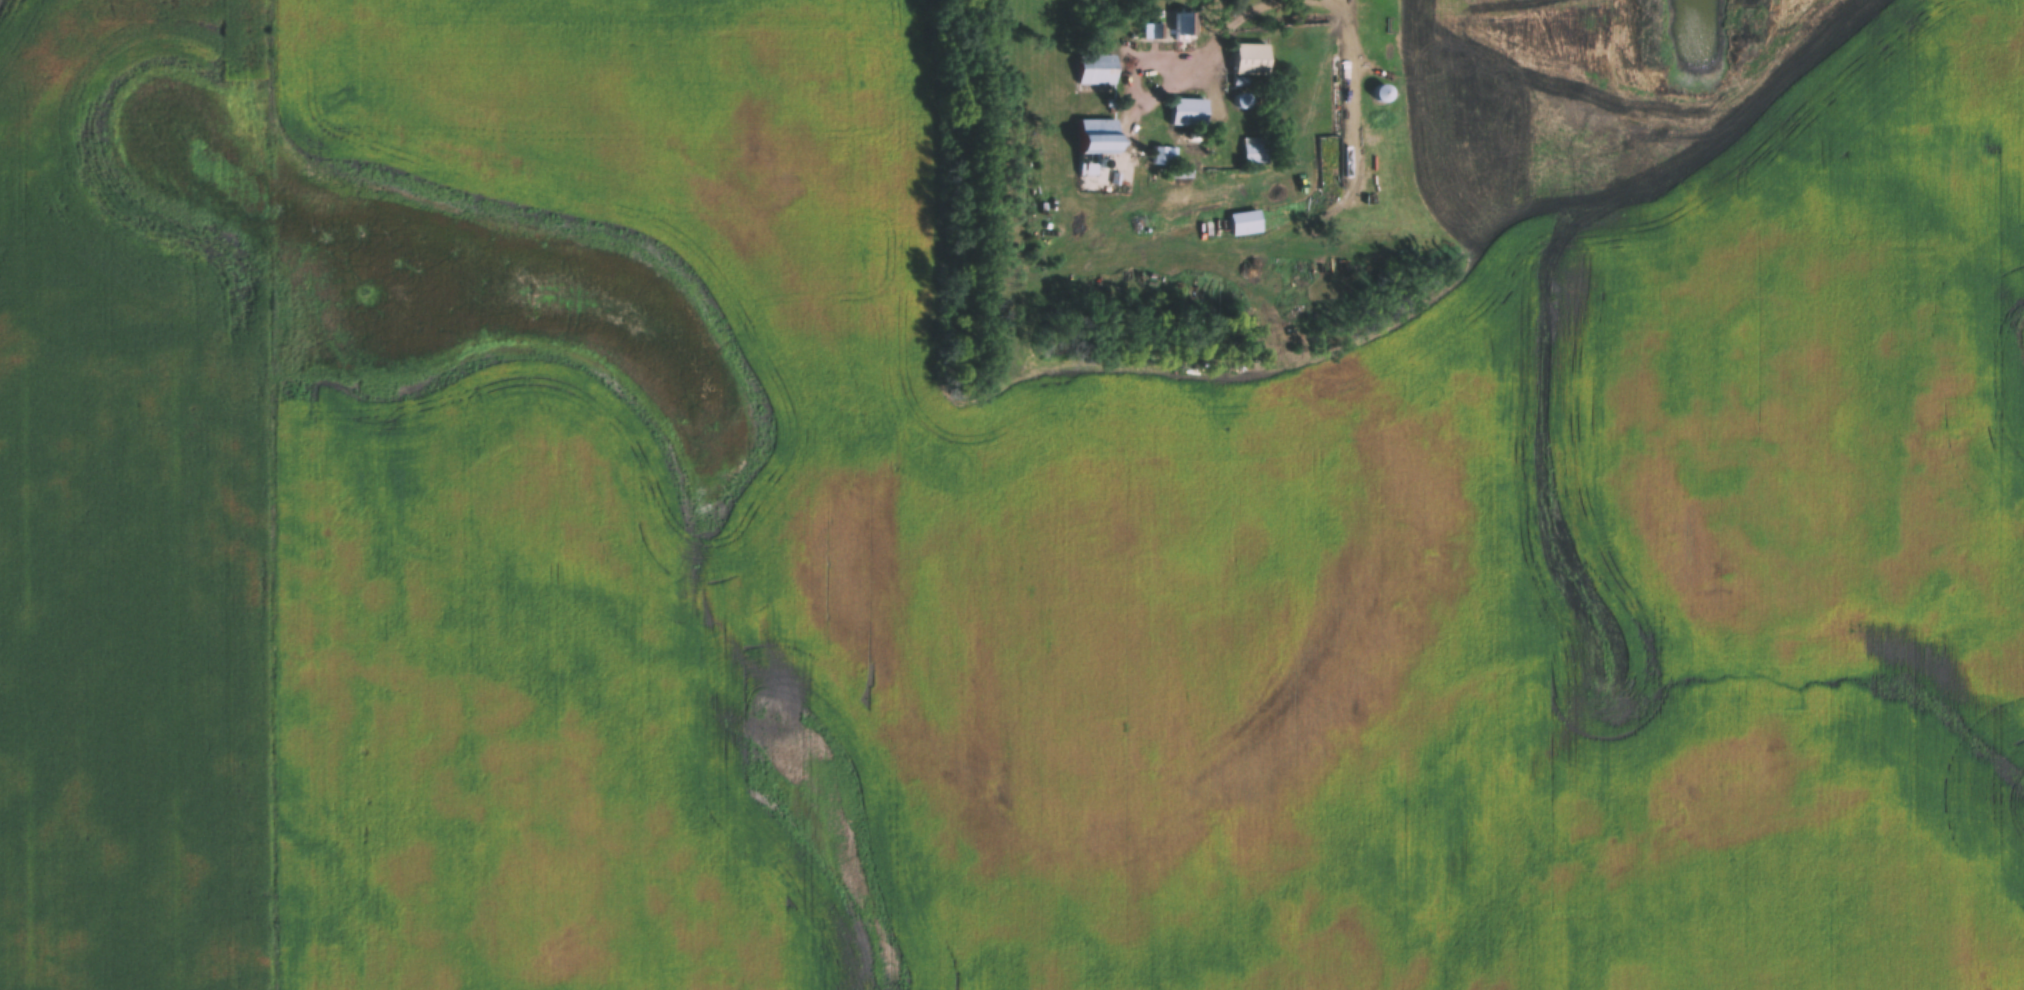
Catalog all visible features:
building: (1180, 24)
road: (1229, 29)
building: (1249, 57)
building: (1096, 67)
building: (1381, 91)
road: (1151, 94)
road: (1355, 100)
building: (1187, 110)
building: (1098, 134)
building: (1254, 149)
building: (1160, 151)
building: (1245, 220)
crop: (137, 497)
crop: (1144, 530)

